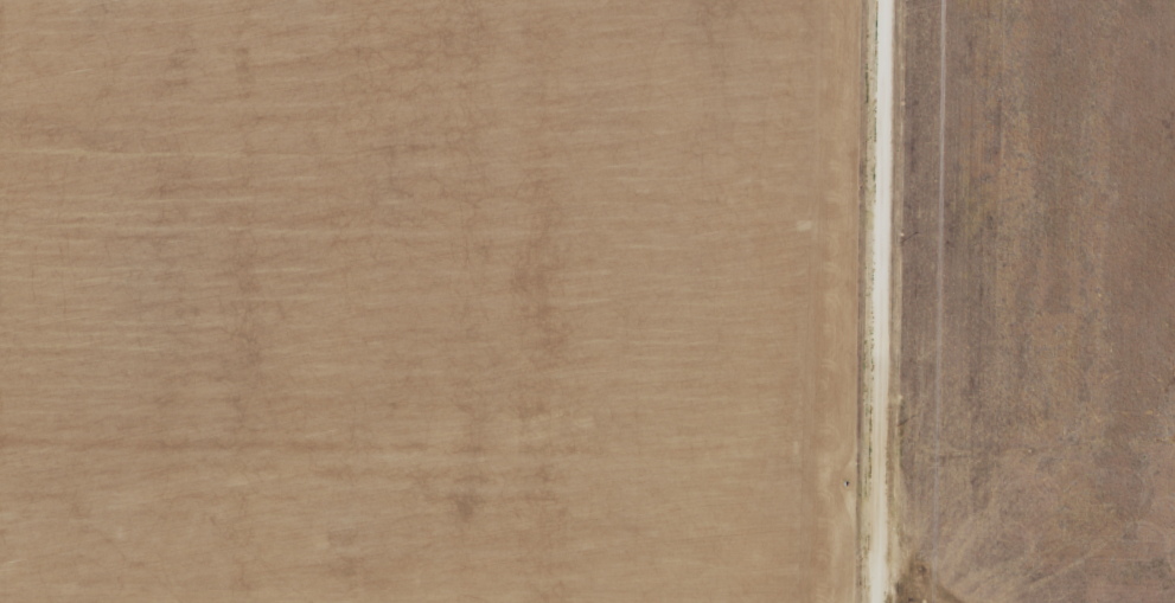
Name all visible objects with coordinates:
road: (881, 301)

